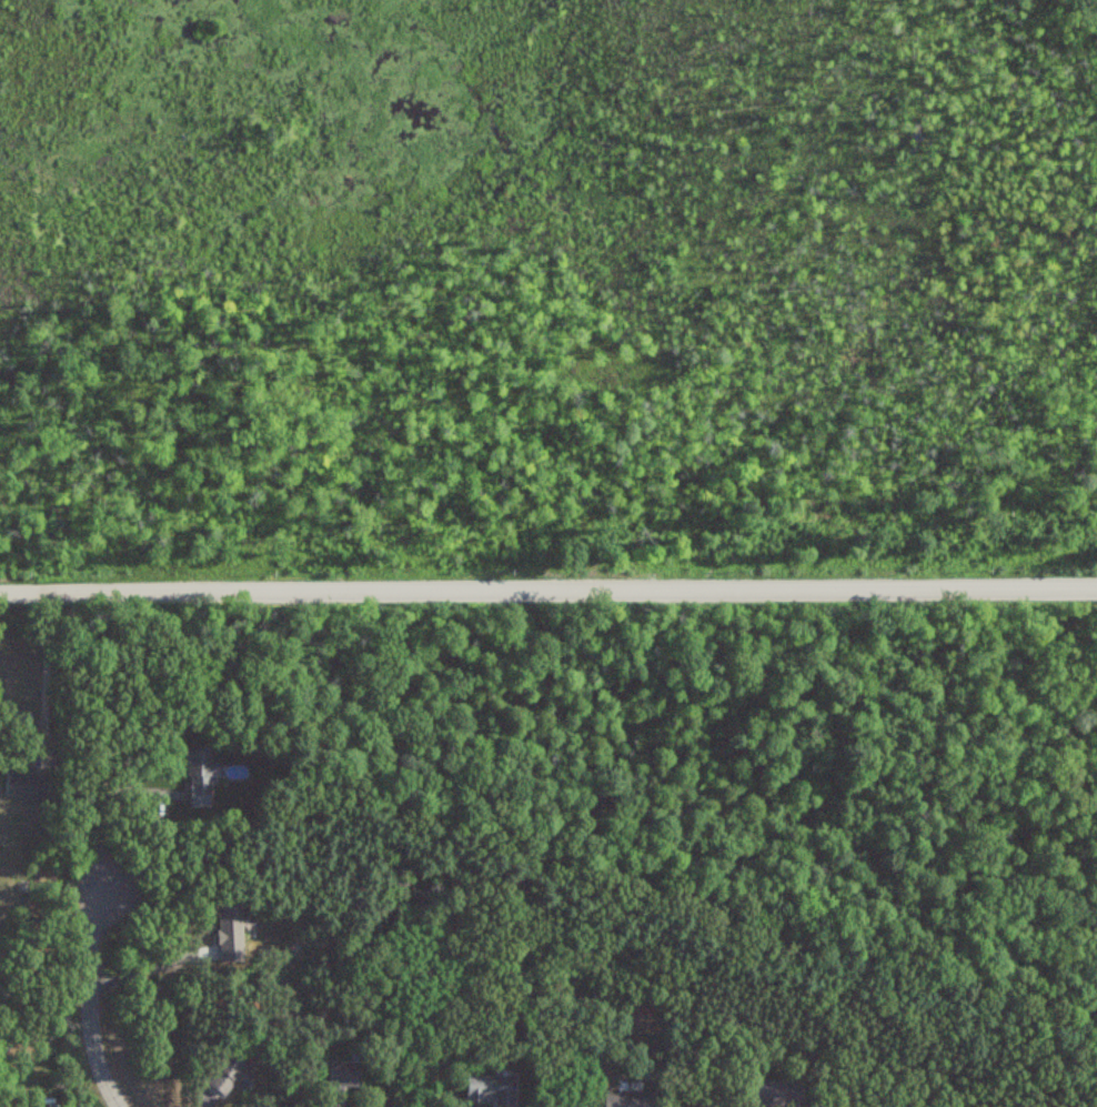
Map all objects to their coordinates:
road: (547, 588)
road: (46, 668)
building: (199, 776)
building: (27, 785)
road: (104, 802)
building: (228, 936)
road: (154, 965)
road: (91, 996)
building: (231, 1076)
building: (339, 1079)
building: (490, 1090)
building: (776, 1094)
building: (627, 1099)

